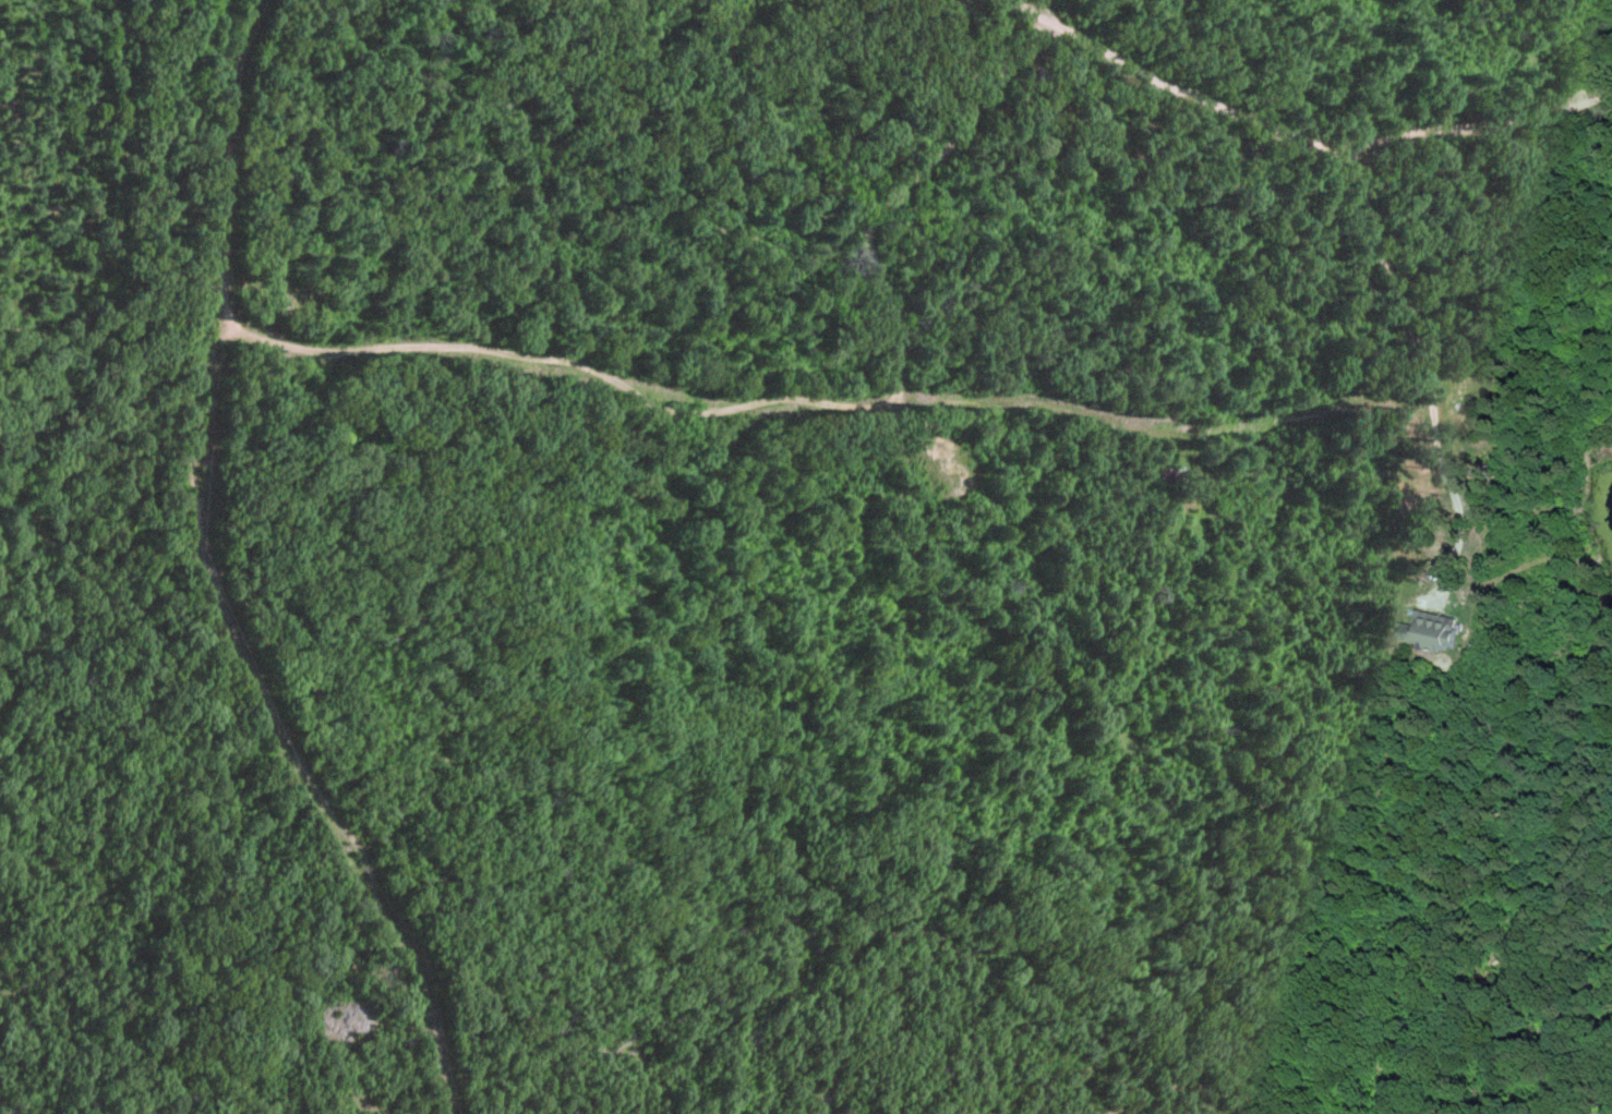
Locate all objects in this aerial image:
road: (1016, 16)
road: (1188, 98)
road: (614, 384)
building: (1454, 402)
building: (1428, 631)

